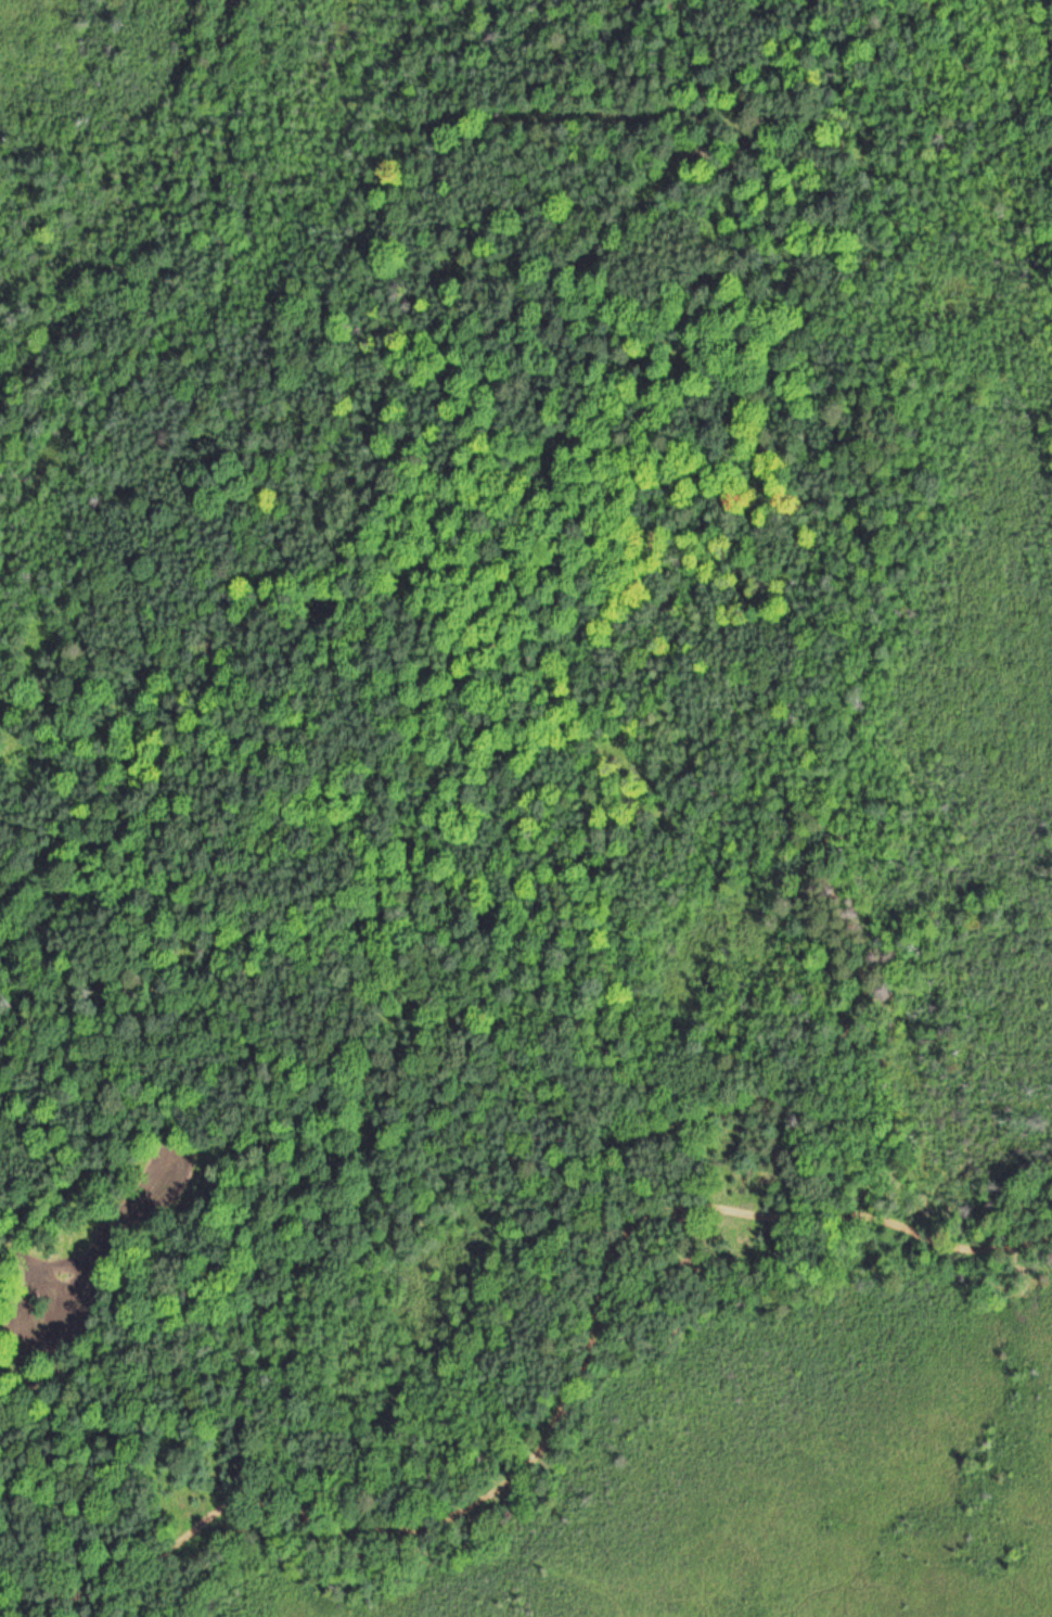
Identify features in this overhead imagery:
road: (560, 1415)

